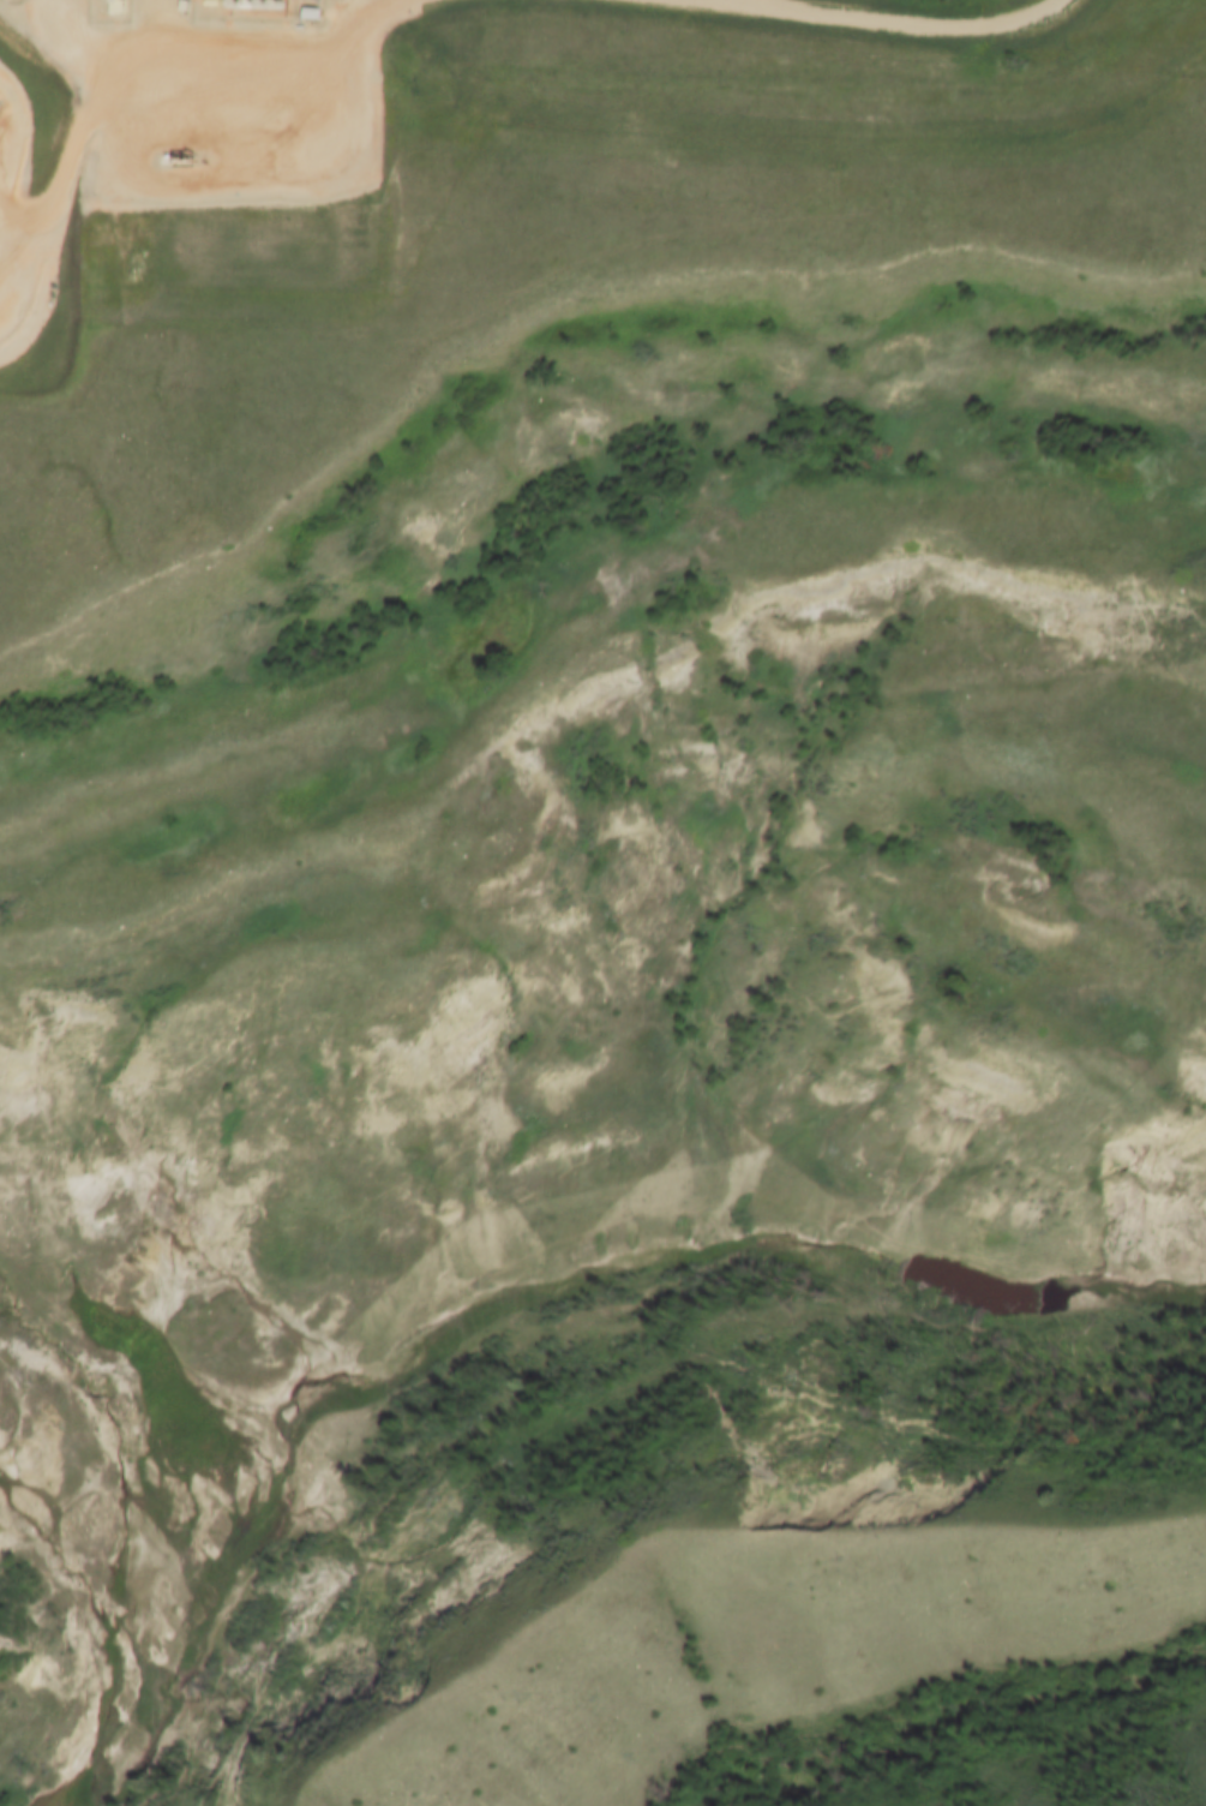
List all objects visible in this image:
road: (1000, 1)
road: (106, 49)

